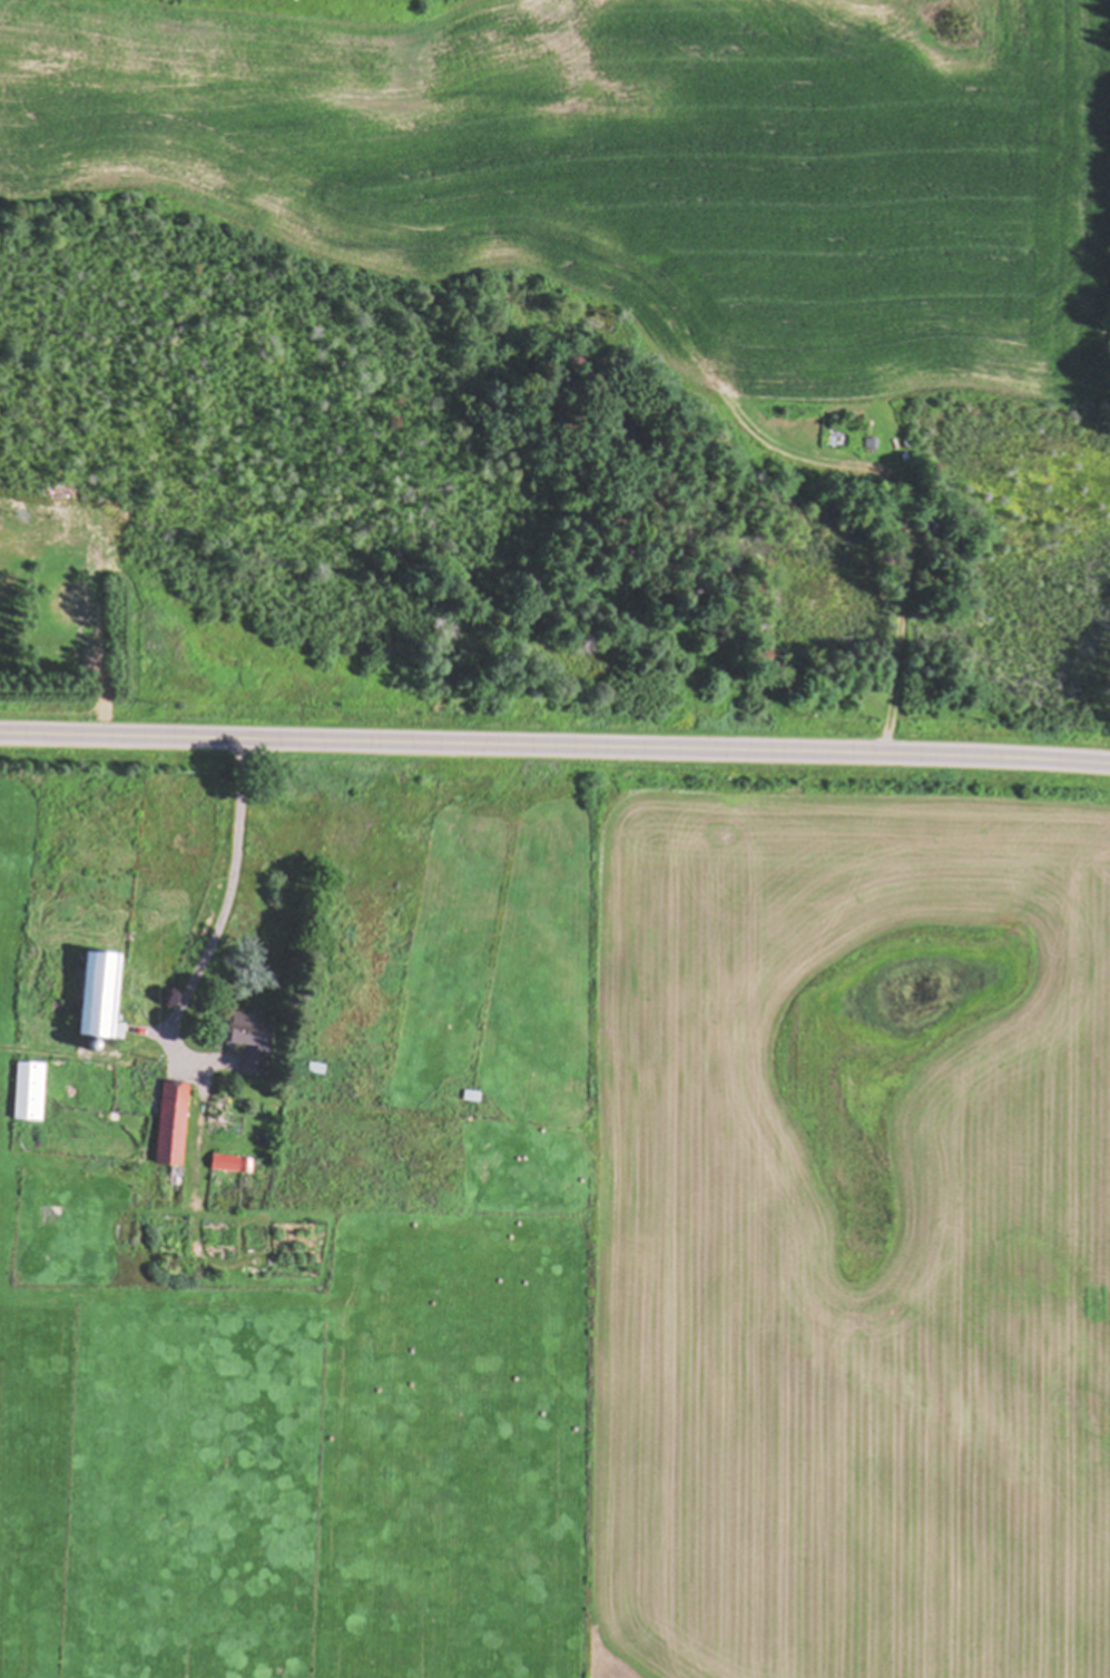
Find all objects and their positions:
road: (554, 746)
road: (242, 893)
building: (102, 997)
building: (254, 1043)
building: (30, 1092)
building: (473, 1097)
building: (174, 1126)
building: (233, 1165)

